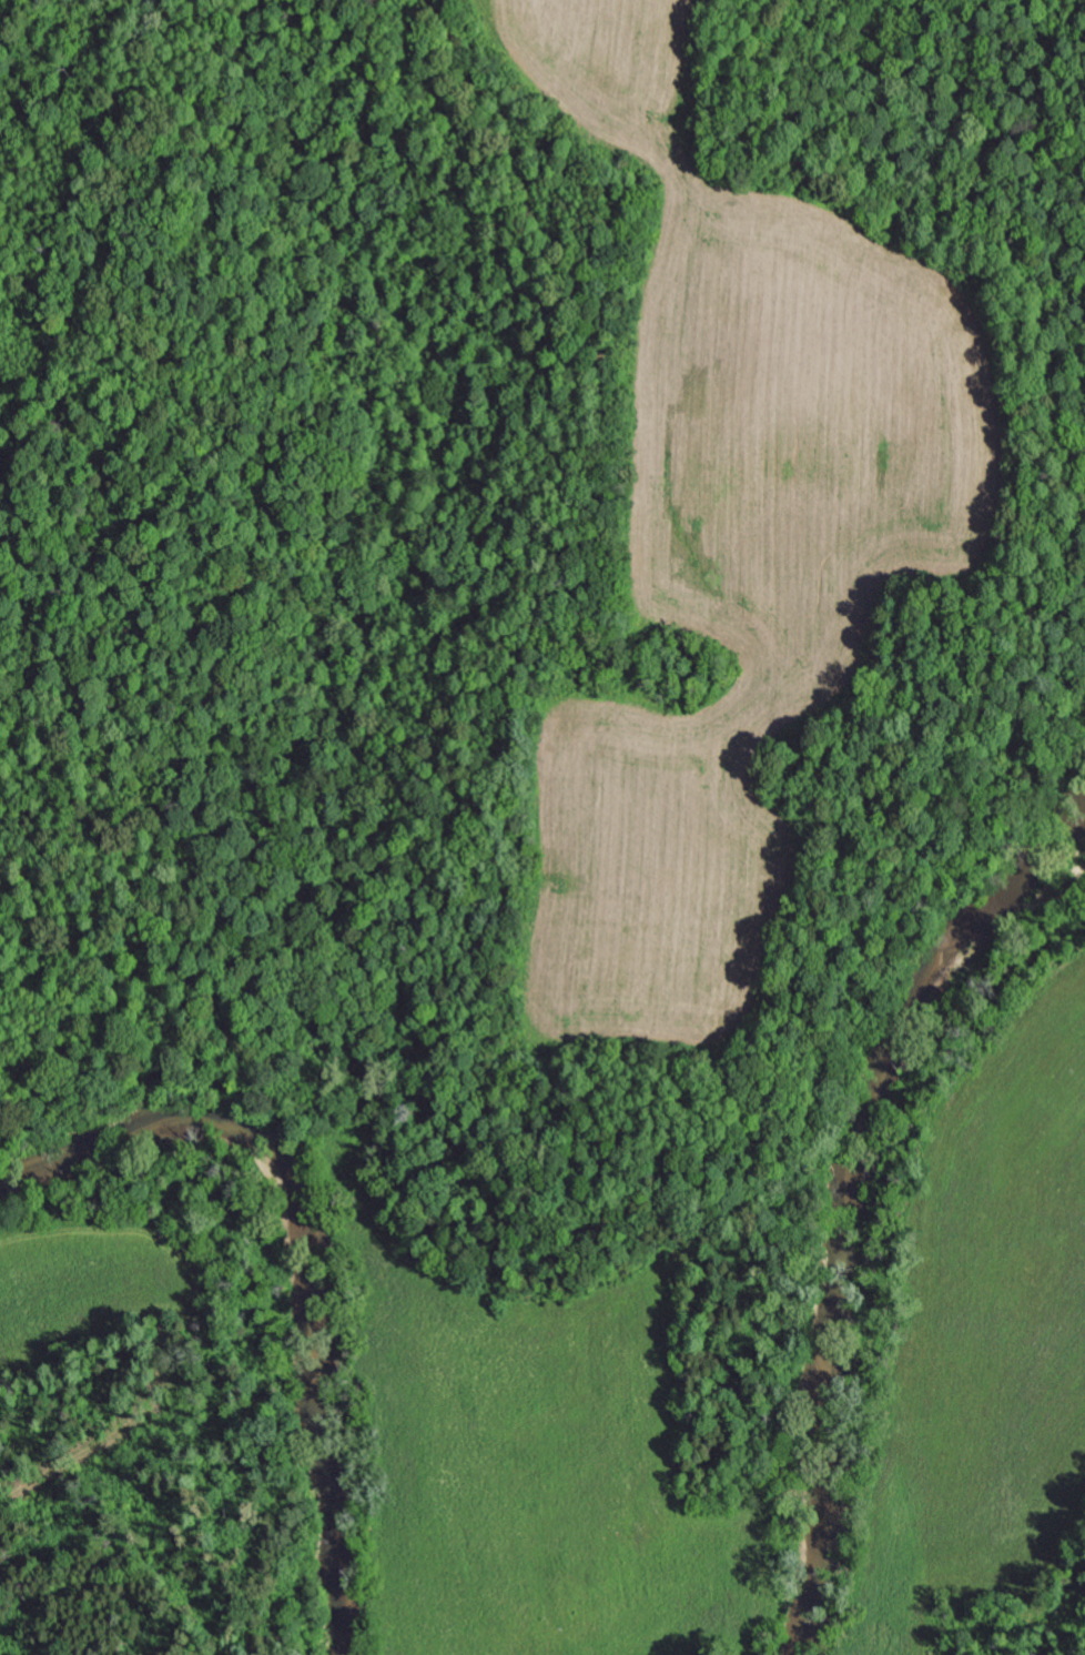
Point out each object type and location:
road: (48, 1391)

